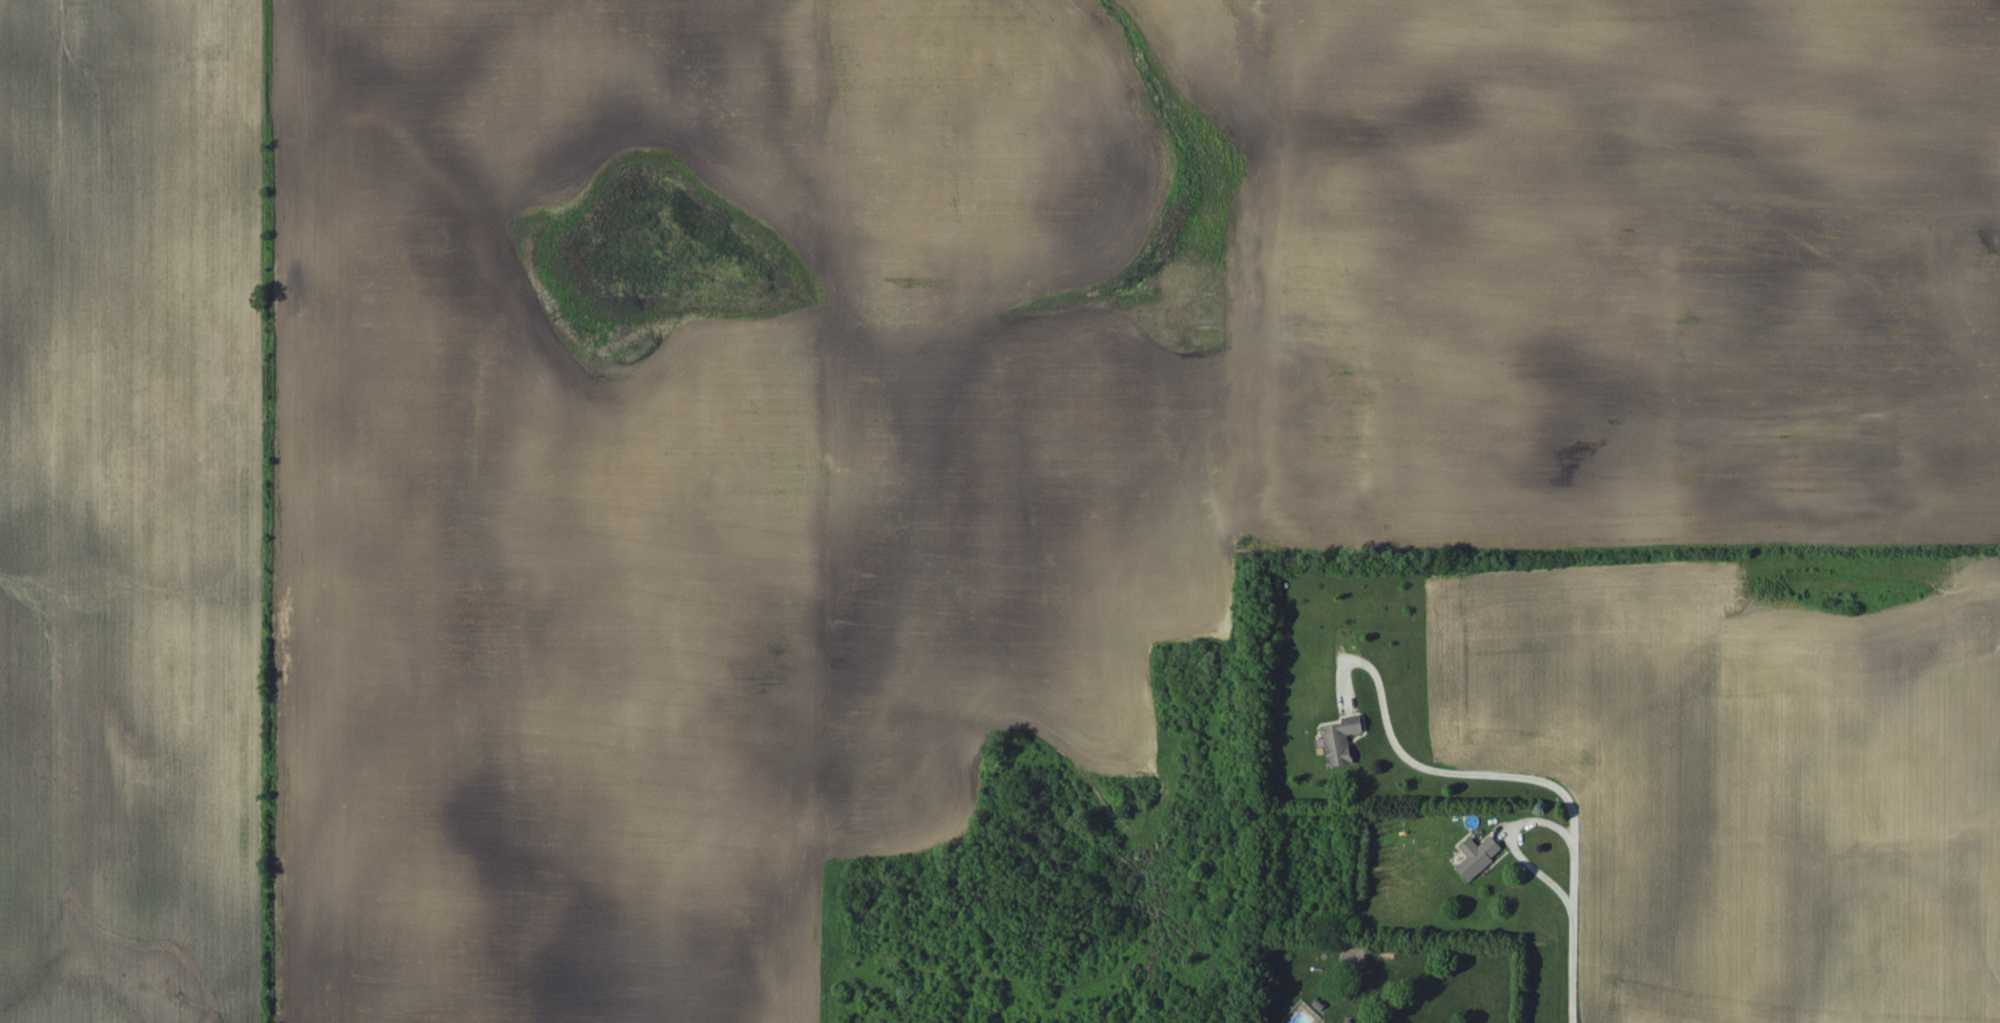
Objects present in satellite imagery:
building: (1342, 743)
road: (1522, 776)
building: (1349, 1022)

